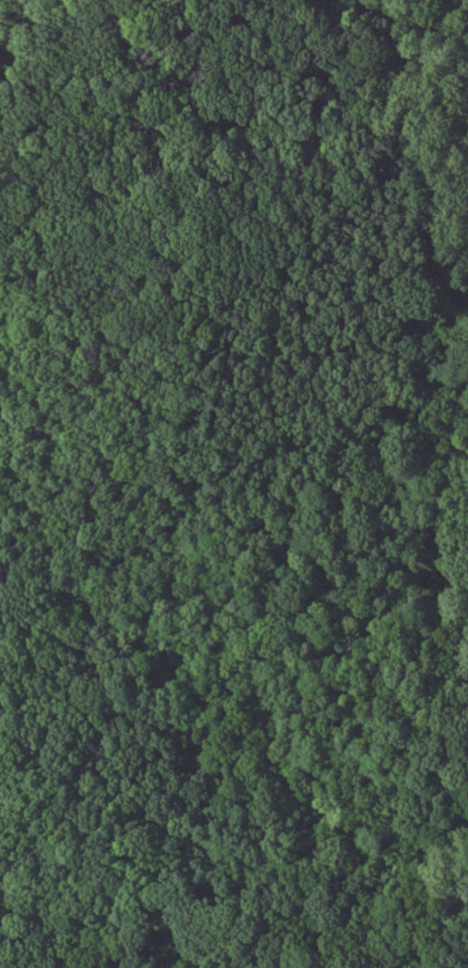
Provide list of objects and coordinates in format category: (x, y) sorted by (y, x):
road: (177, 35)
park: (234, 484)

